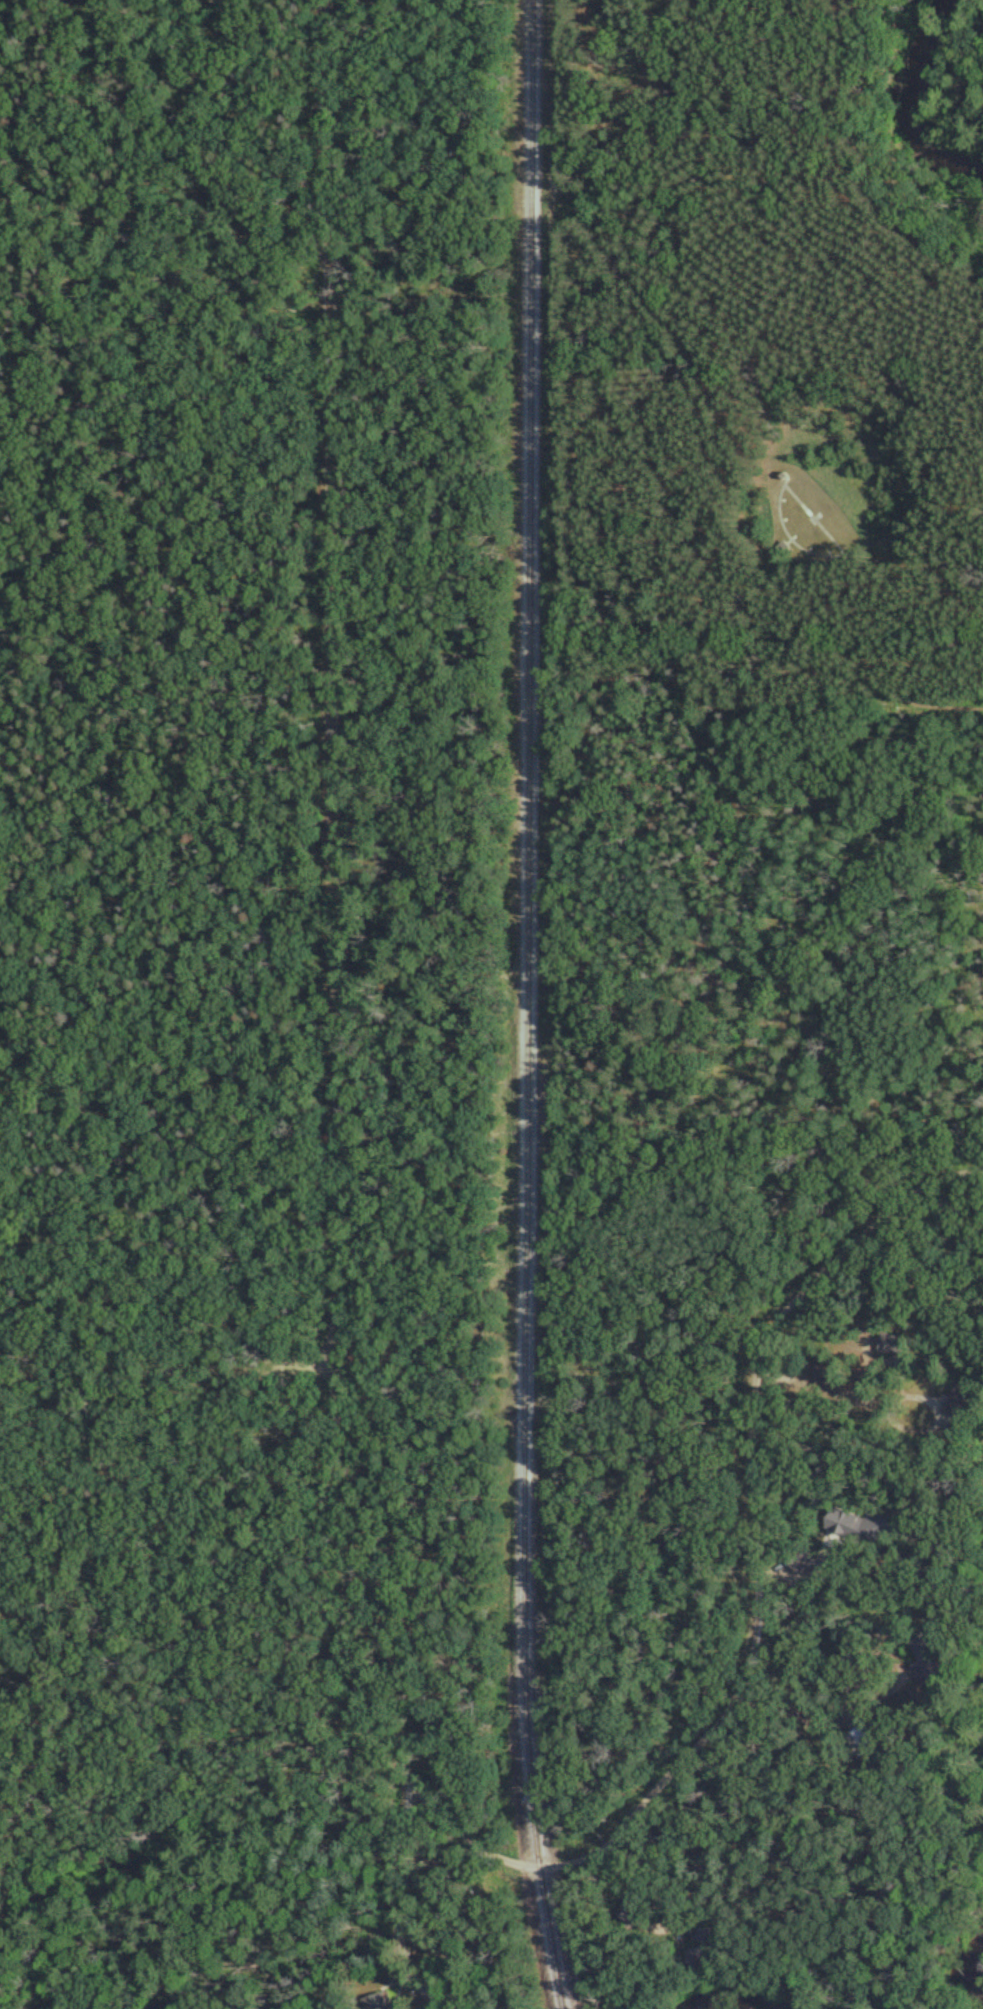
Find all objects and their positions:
river: (900, 112)
road: (345, 977)
railway: (533, 1006)
road: (782, 1522)
river: (966, 1975)
river: (702, 2008)

